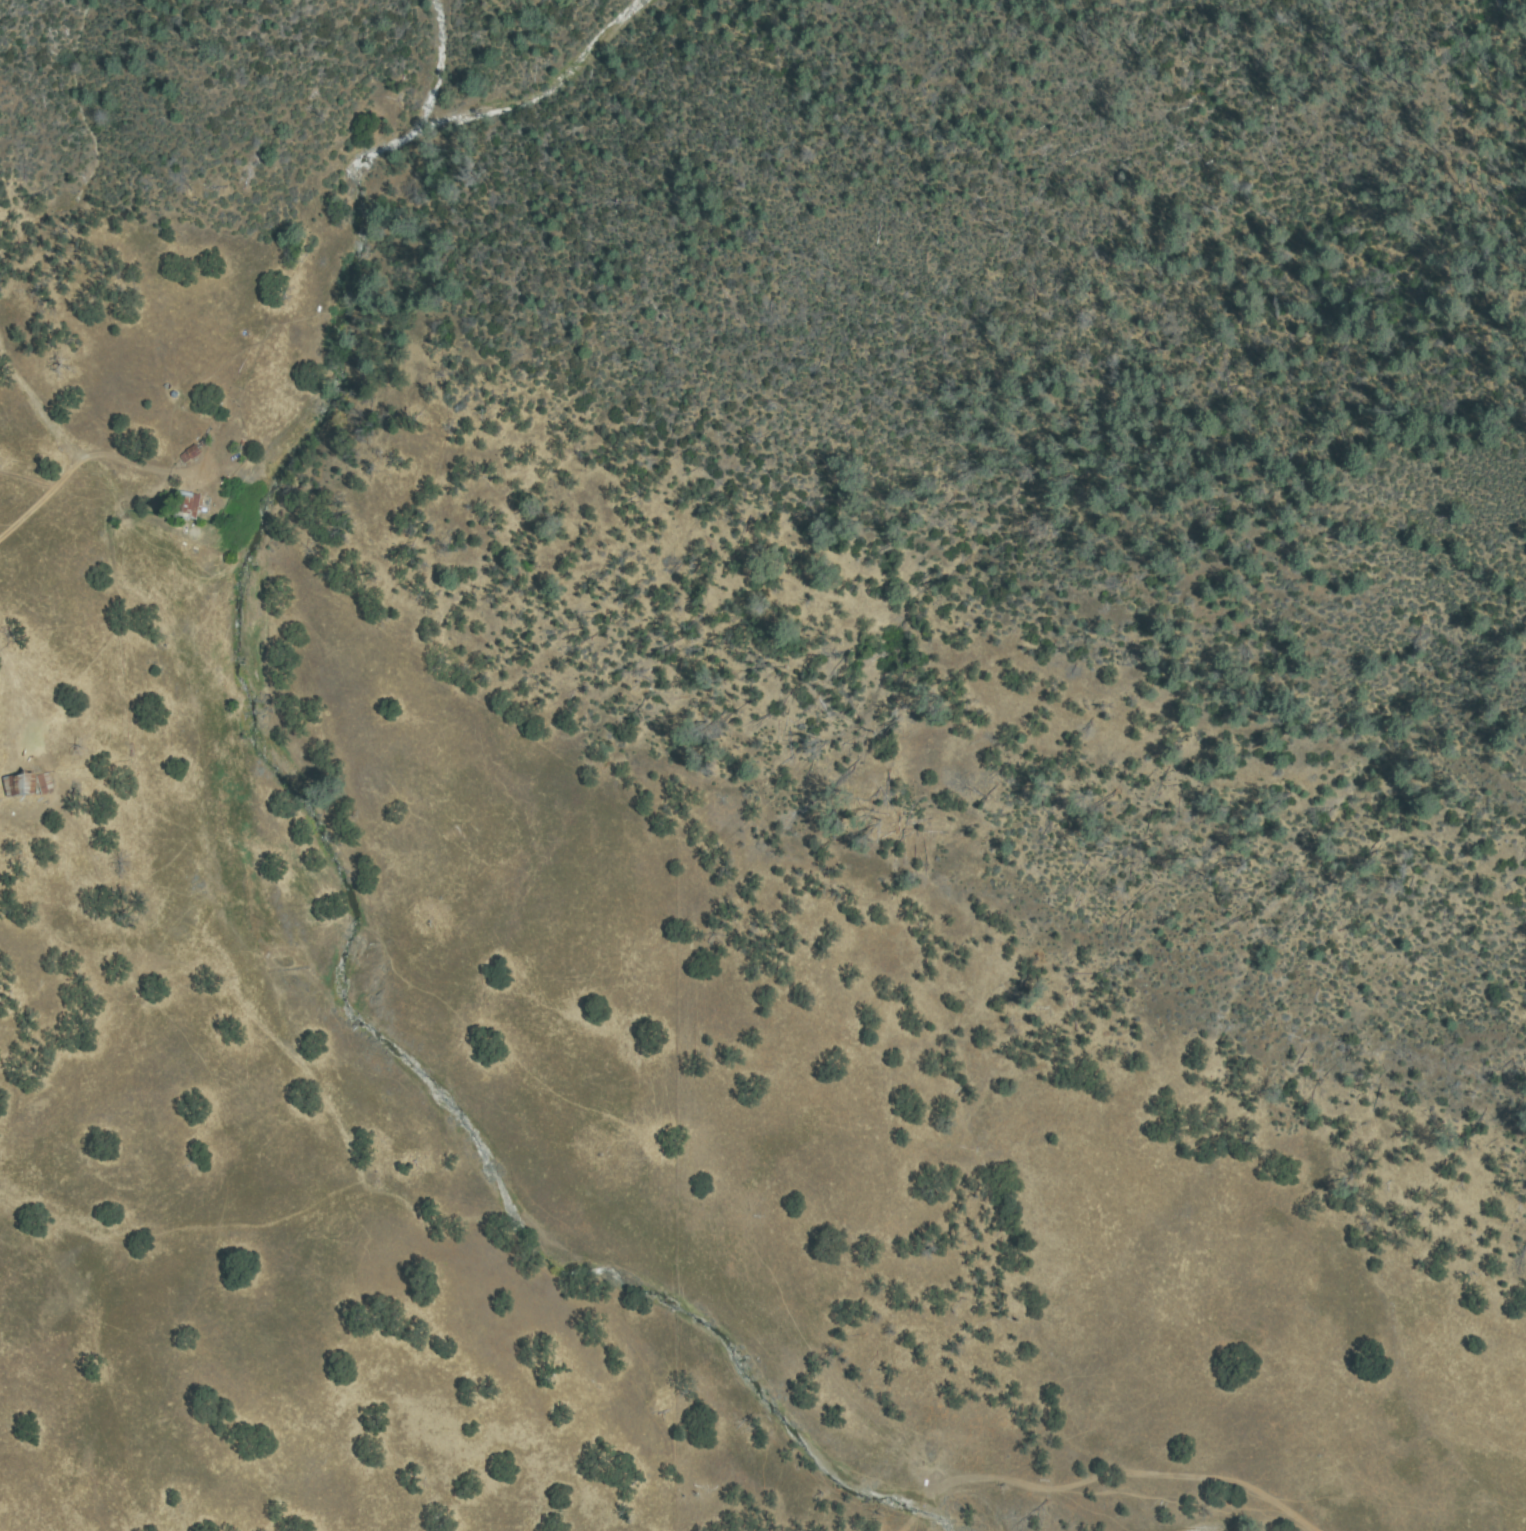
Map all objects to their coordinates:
storage tank: (174, 394)
building: (191, 452)
building: (190, 504)
road: (40, 510)
building: (25, 784)
road: (1120, 1485)

